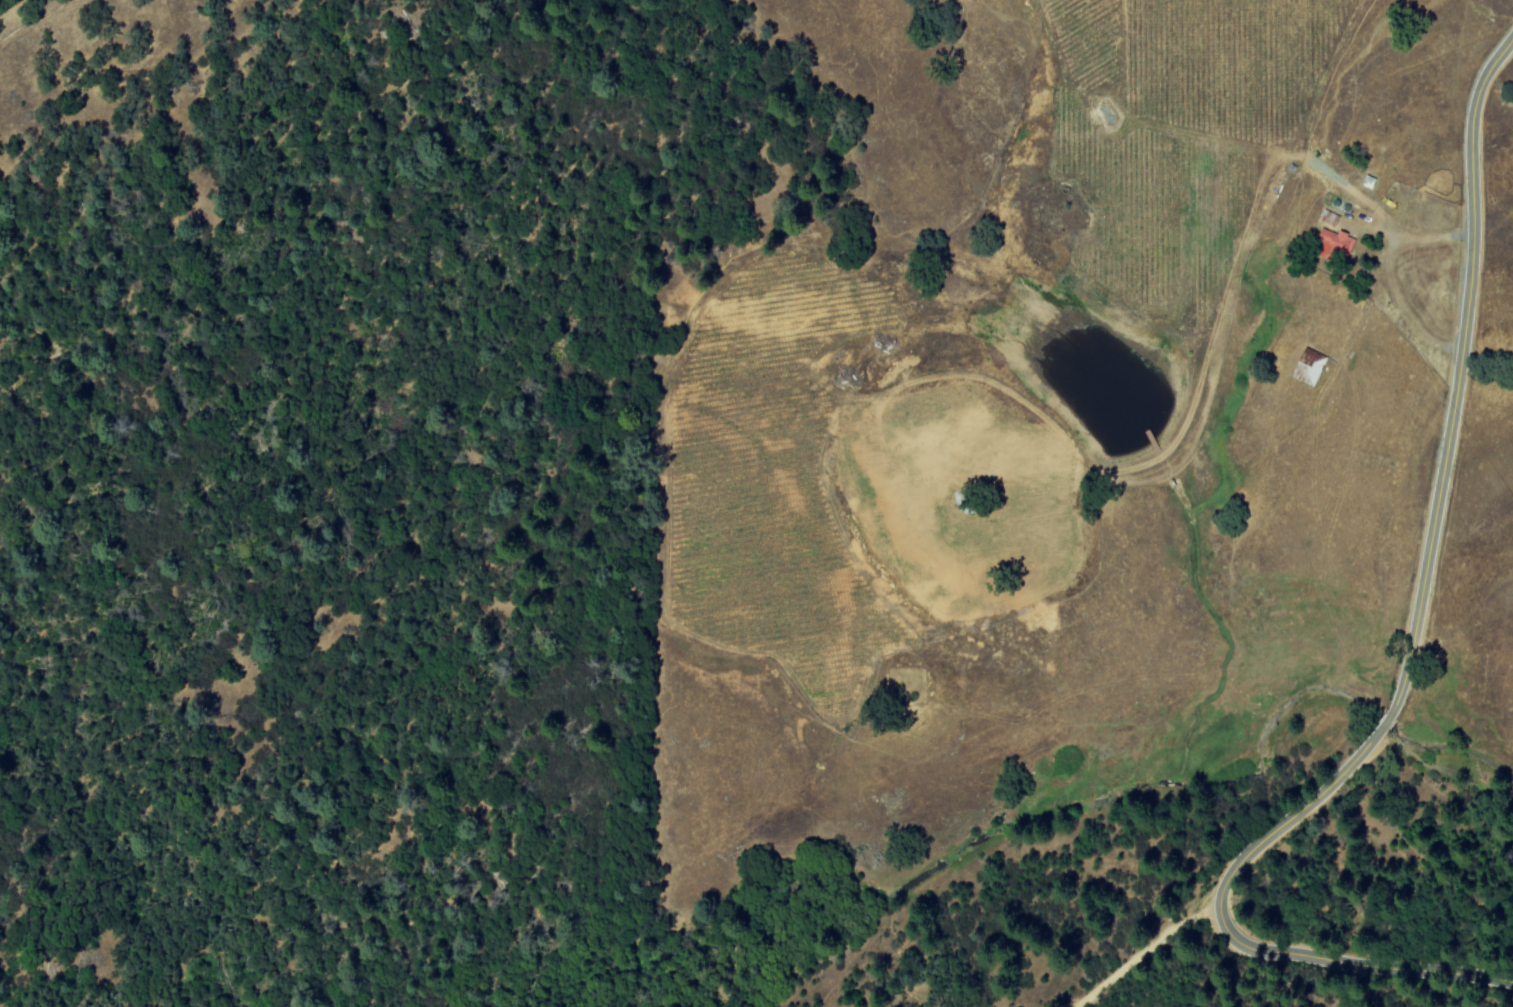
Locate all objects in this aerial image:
building: (1327, 218)
building: (1333, 245)
building: (1307, 367)
road: (1434, 505)
road: (1369, 950)
road: (1144, 953)

